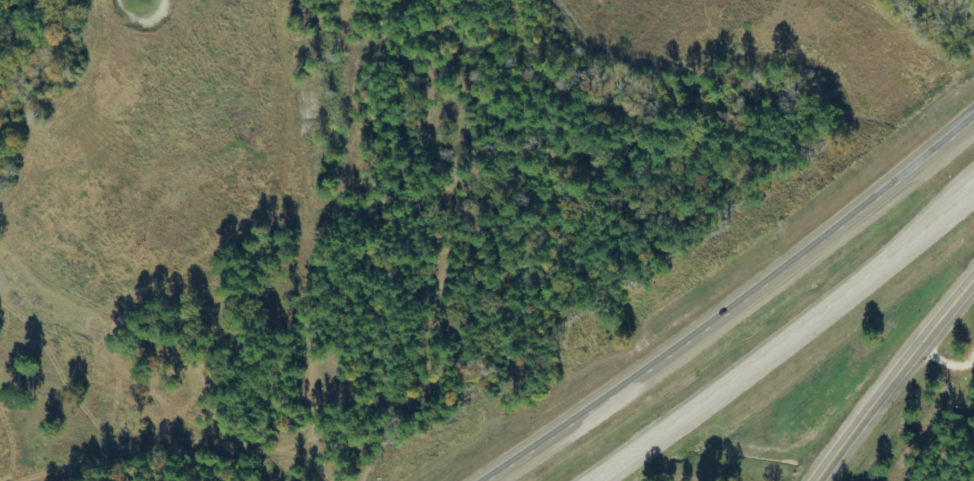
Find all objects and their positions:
road: (955, 203)
road: (736, 303)
road: (764, 353)
road: (893, 379)

